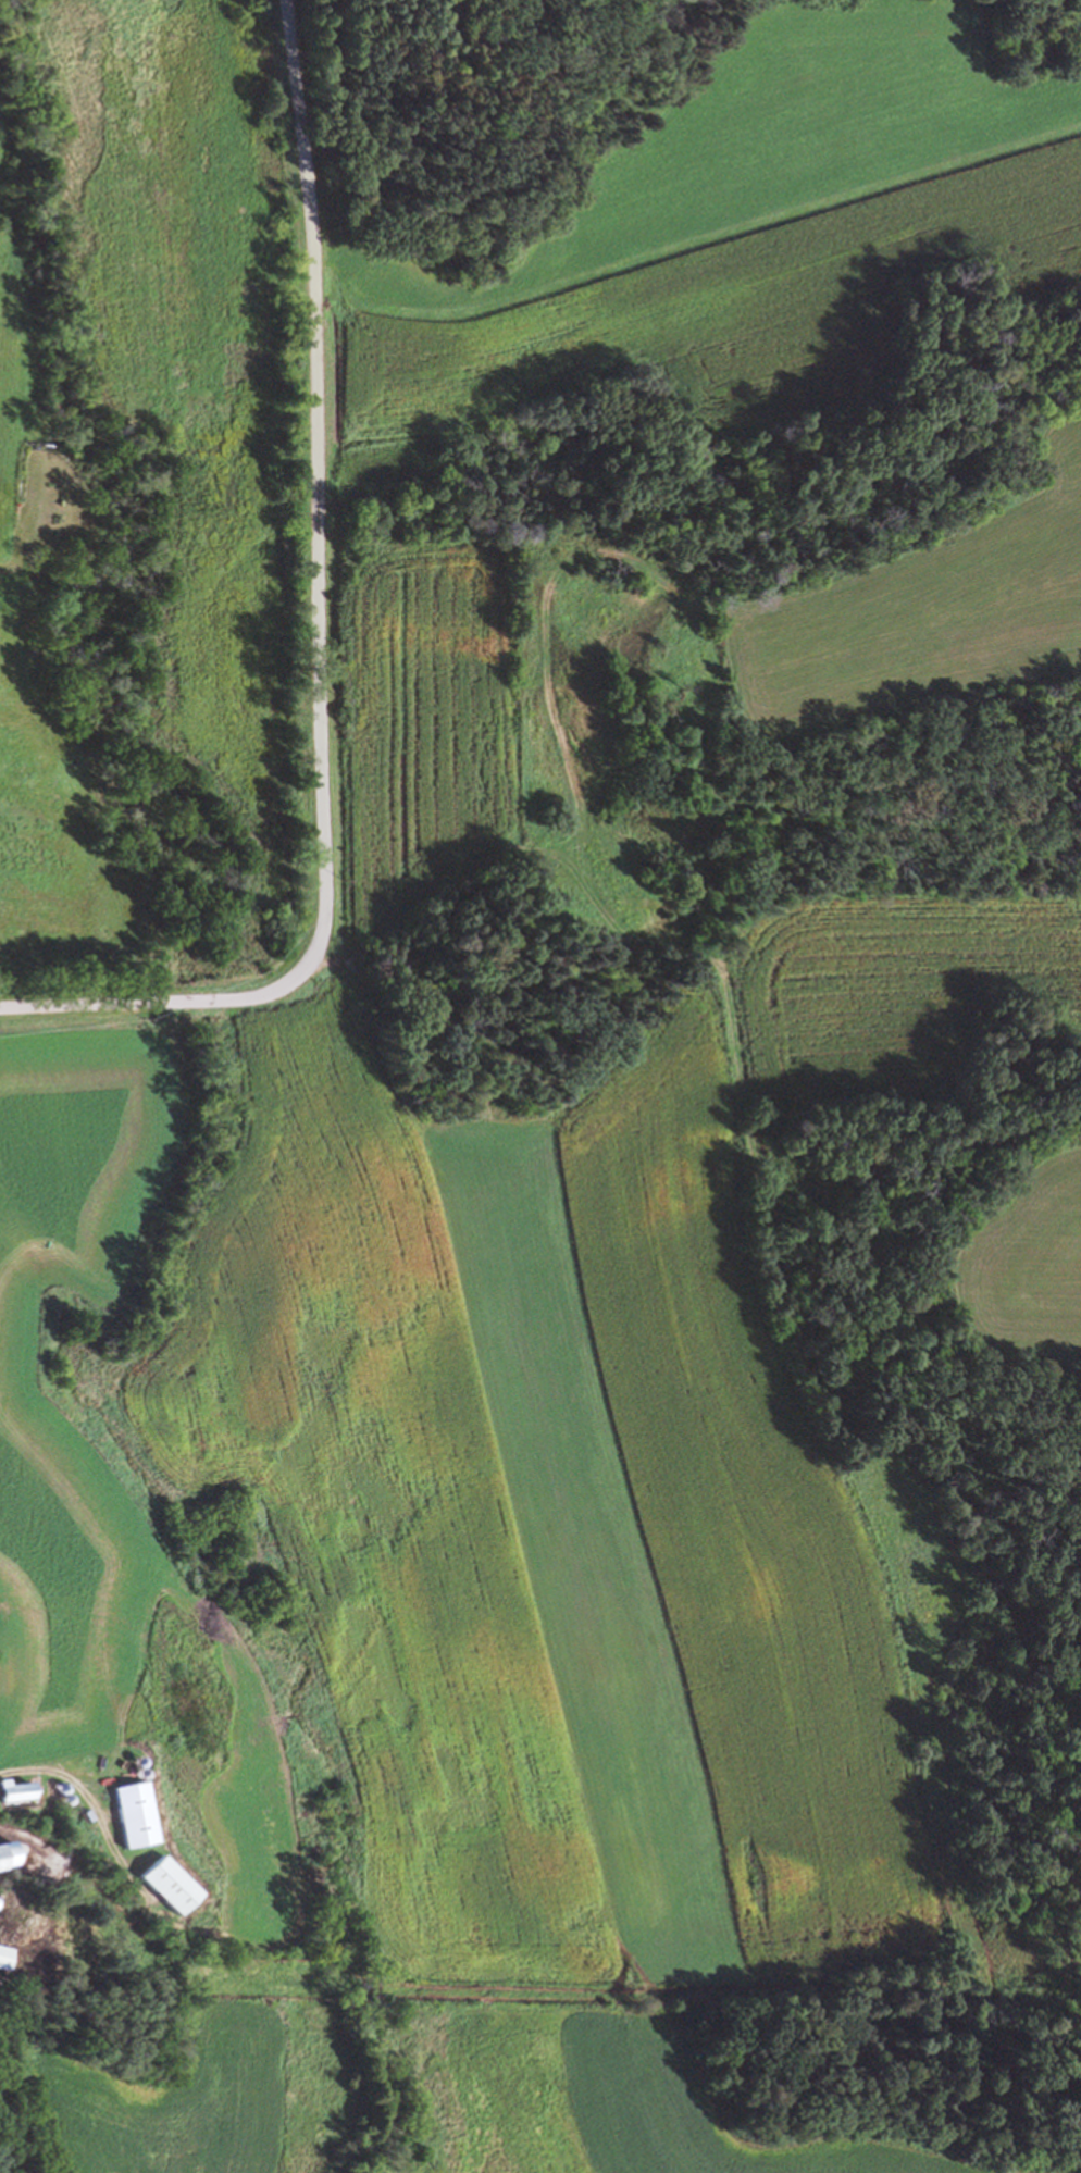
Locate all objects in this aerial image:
road: (316, 642)
building: (12, 1788)
building: (134, 1813)
building: (5, 1851)
building: (167, 1883)
building: (4, 1955)
road: (5, 2161)

